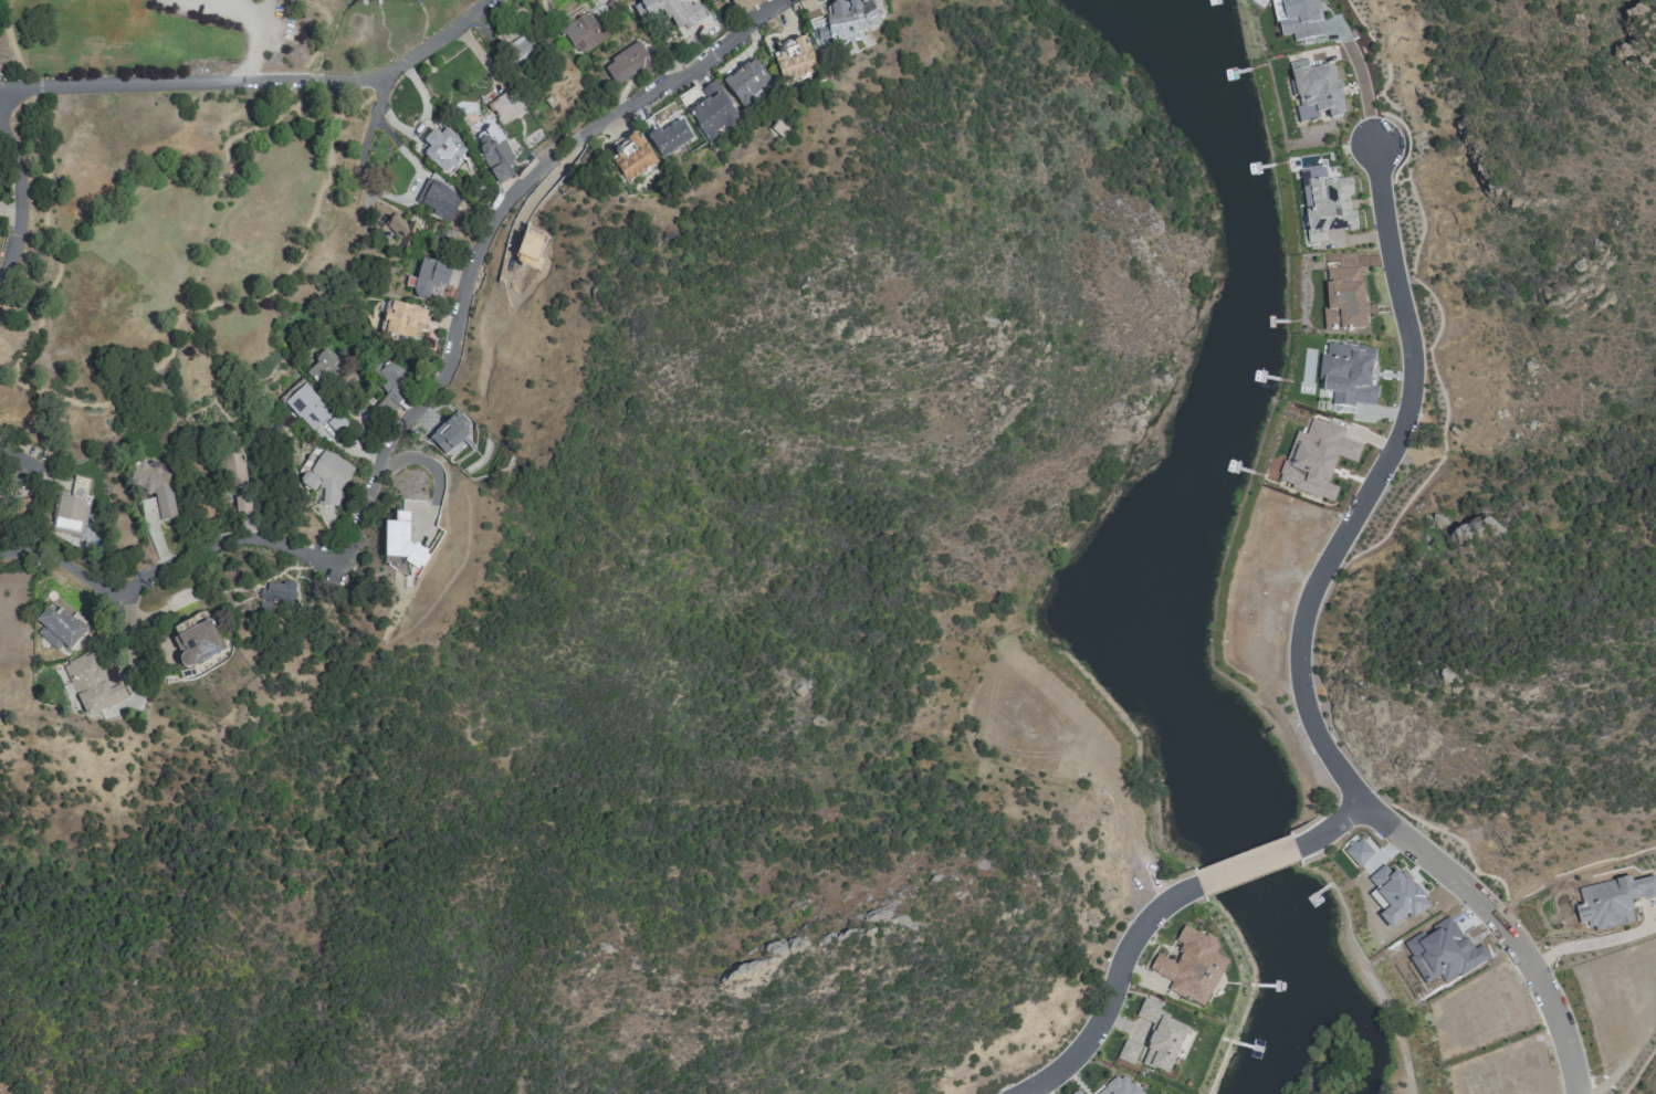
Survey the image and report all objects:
building: (743, 4)
building: (602, 9)
building: (671, 12)
building: (1300, 20)
building: (845, 22)
building: (584, 32)
building: (794, 57)
building: (629, 64)
road: (262, 83)
building: (747, 83)
building: (1317, 92)
road: (1364, 93)
building: (505, 106)
building: (713, 113)
building: (671, 137)
building: (443, 150)
building: (495, 154)
building: (633, 159)
road: (413, 190)
building: (439, 199)
road: (19, 204)
building: (1325, 206)
building: (402, 230)
building: (430, 278)
building: (1348, 297)
building: (405, 320)
building: (326, 368)
road: (163, 371)
building: (1348, 376)
building: (392, 383)
road: (431, 389)
building: (306, 406)
building: (449, 435)
road: (24, 465)
building: (233, 466)
building: (328, 475)
building: (400, 541)
road: (1329, 560)
building: (274, 596)
building: (61, 629)
building: (196, 644)
building: (91, 684)
road: (1331, 830)
road: (1247, 869)
road: (1585, 947)
building: (1192, 967)
road: (1111, 993)
road: (1544, 996)
building: (1160, 1039)
building: (1129, 1053)
building: (1119, 1086)
road: (1578, 1091)
building: (1077, 1092)

